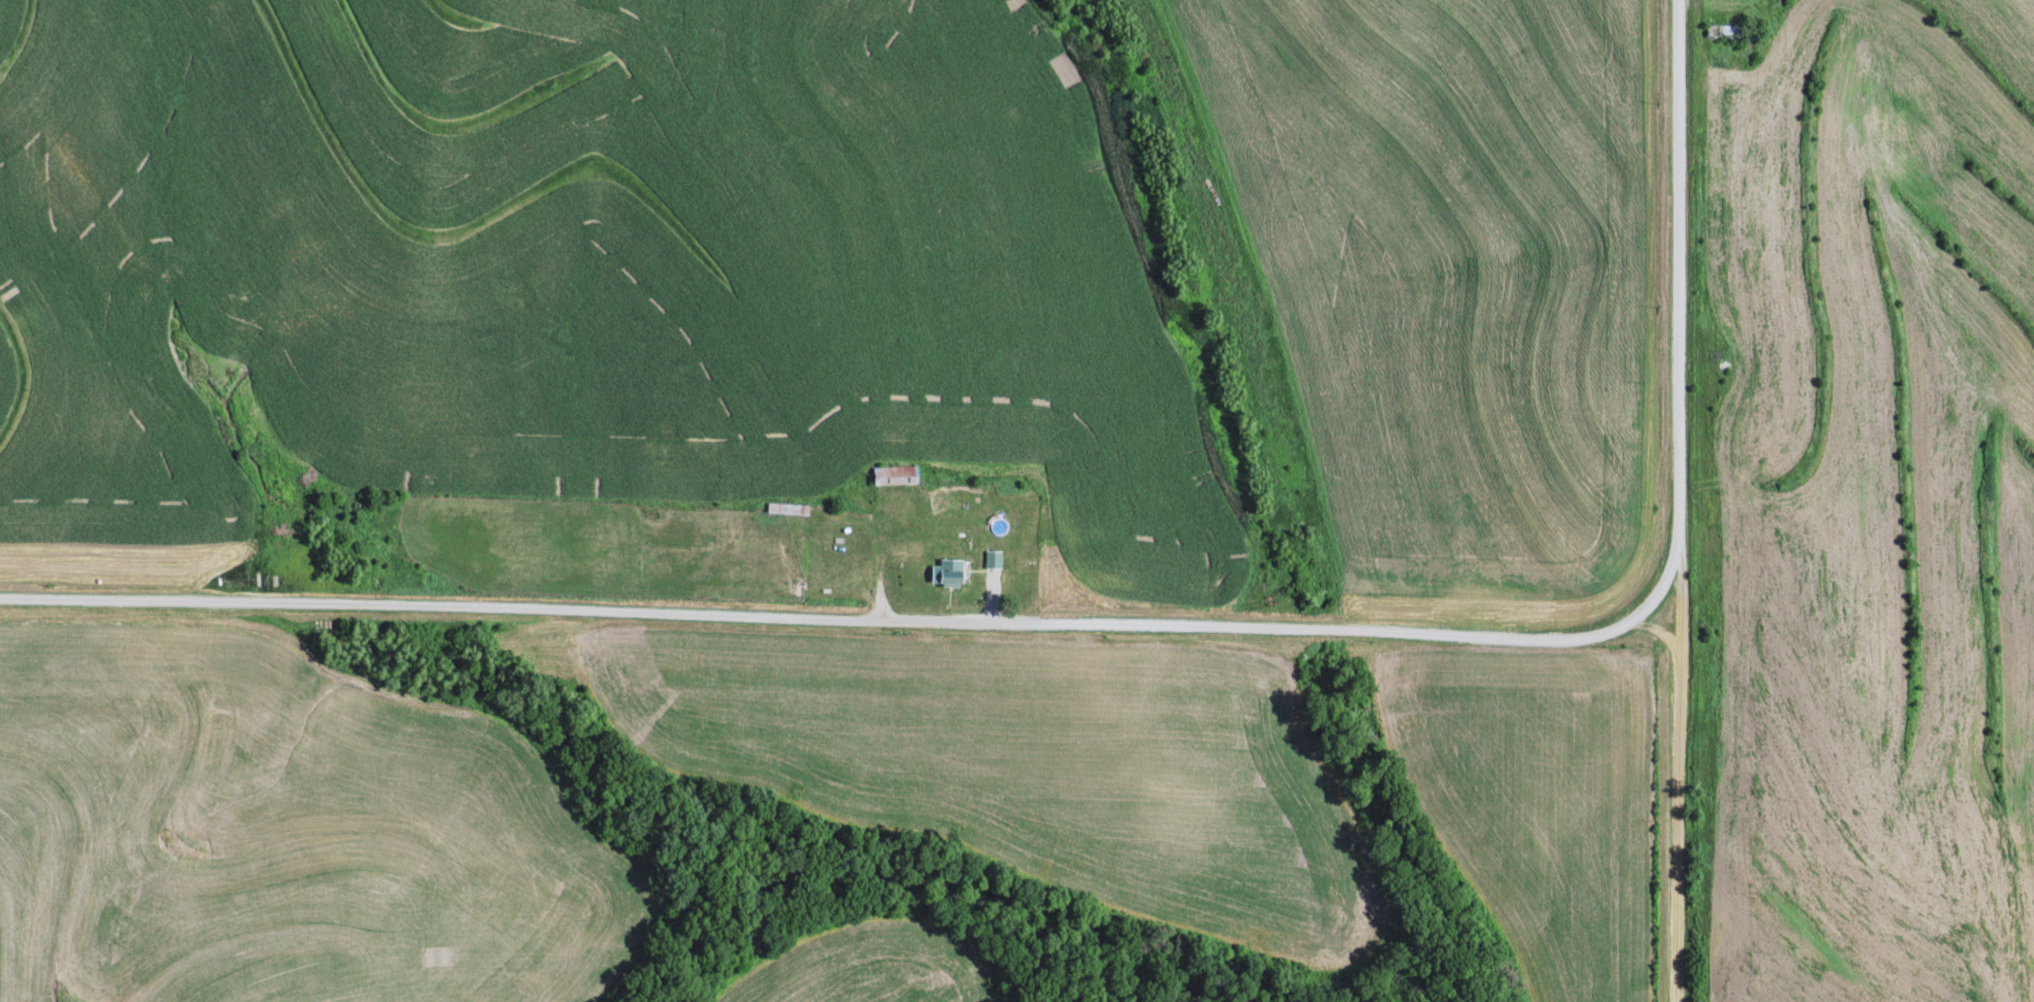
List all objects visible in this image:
building: (1725, 363)
building: (897, 473)
road: (1677, 501)
building: (785, 507)
building: (951, 569)
road: (862, 616)
road: (1658, 625)

